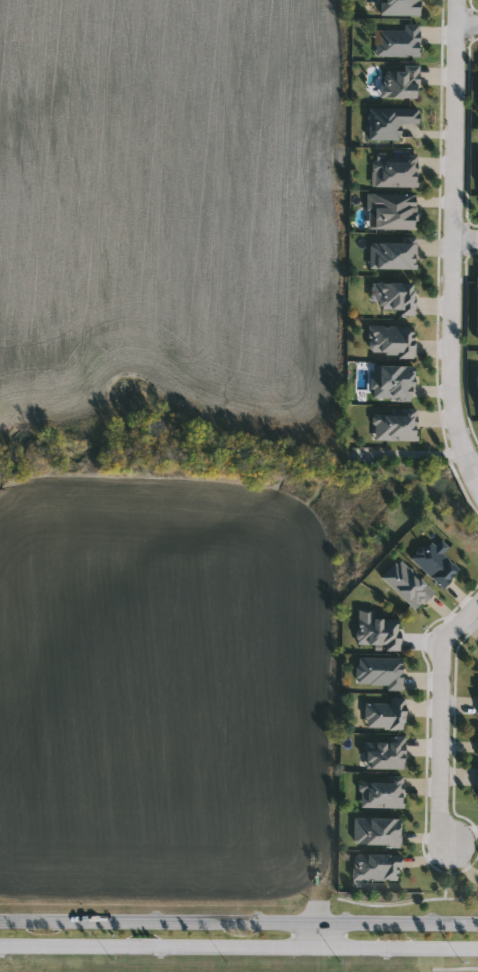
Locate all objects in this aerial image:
building: (399, 7)
road: (466, 26)
building: (397, 41)
building: (399, 83)
building: (388, 122)
building: (393, 170)
building: (389, 212)
road: (465, 238)
road: (451, 244)
building: (390, 255)
building: (394, 299)
building: (476, 305)
building: (389, 341)
building: (391, 381)
building: (476, 384)
building: (392, 426)
road: (476, 475)
building: (435, 559)
building: (407, 582)
building: (378, 631)
building: (380, 670)
building: (385, 712)
road: (440, 718)
building: (477, 740)
building: (385, 751)
building: (477, 781)
building: (380, 791)
building: (376, 829)
building: (376, 865)
road: (238, 919)
road: (315, 932)
road: (239, 944)

